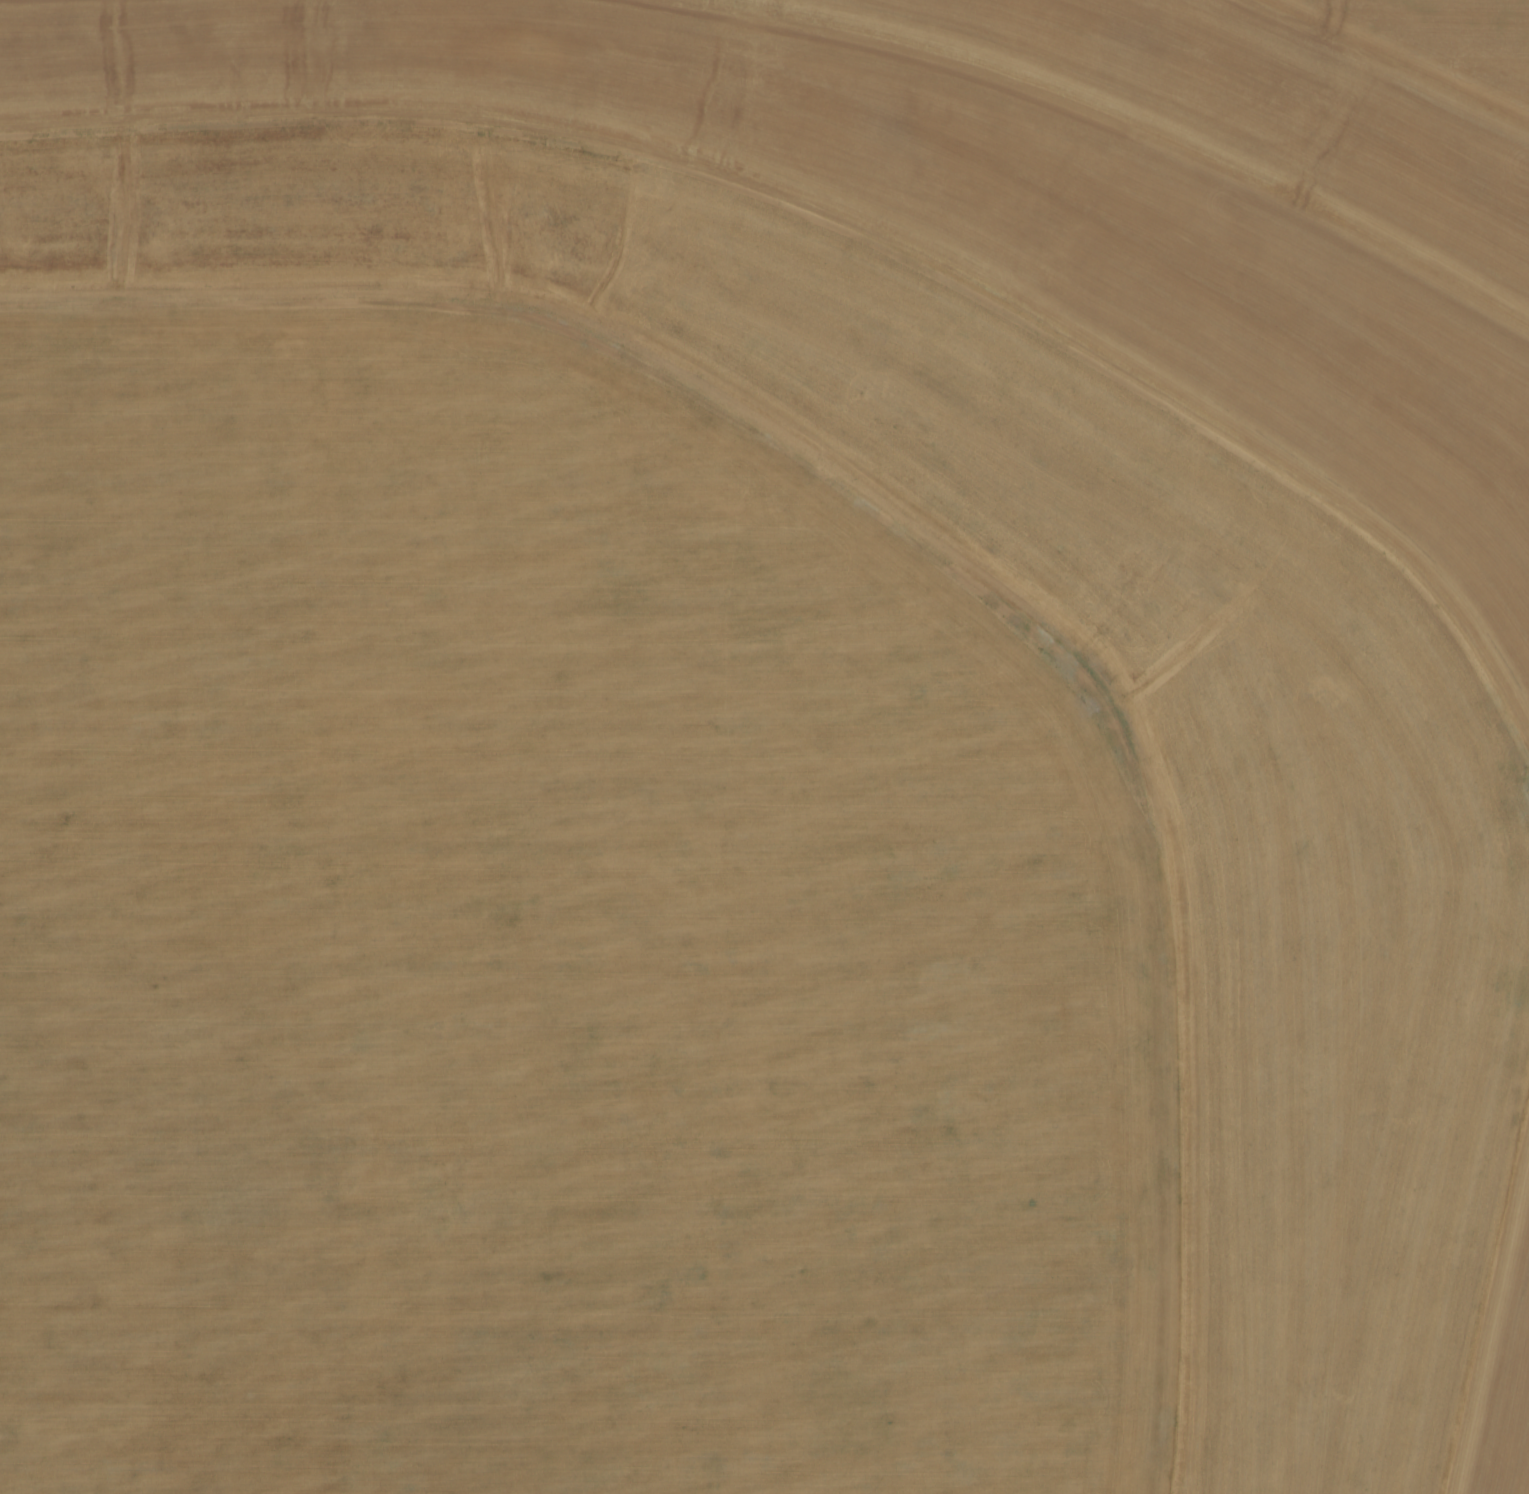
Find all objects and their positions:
crop: (764, 747)

